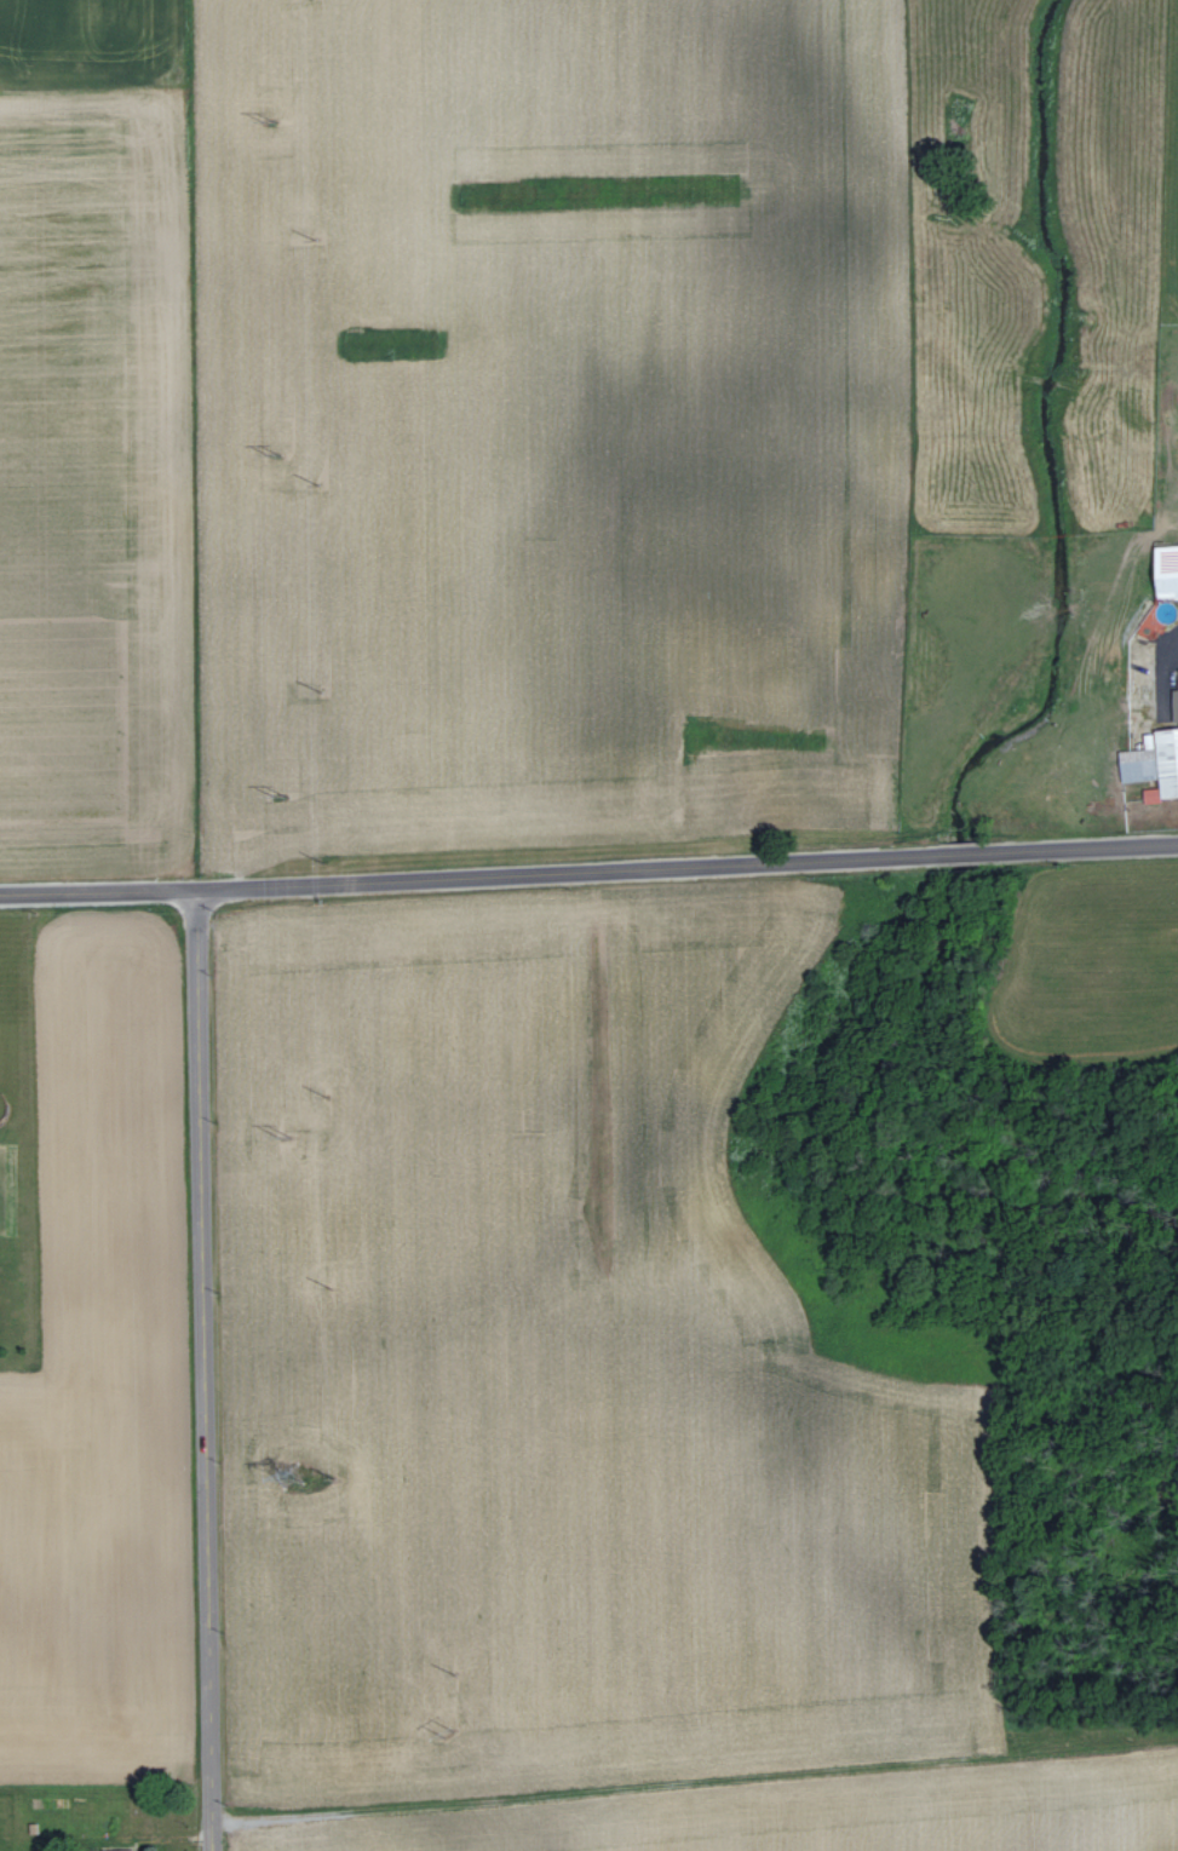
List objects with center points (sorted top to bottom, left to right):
building: (1162, 570)
road: (1162, 671)
building: (1173, 700)
building: (1151, 763)
road: (588, 881)
road: (200, 1372)
building: (127, 1849)

